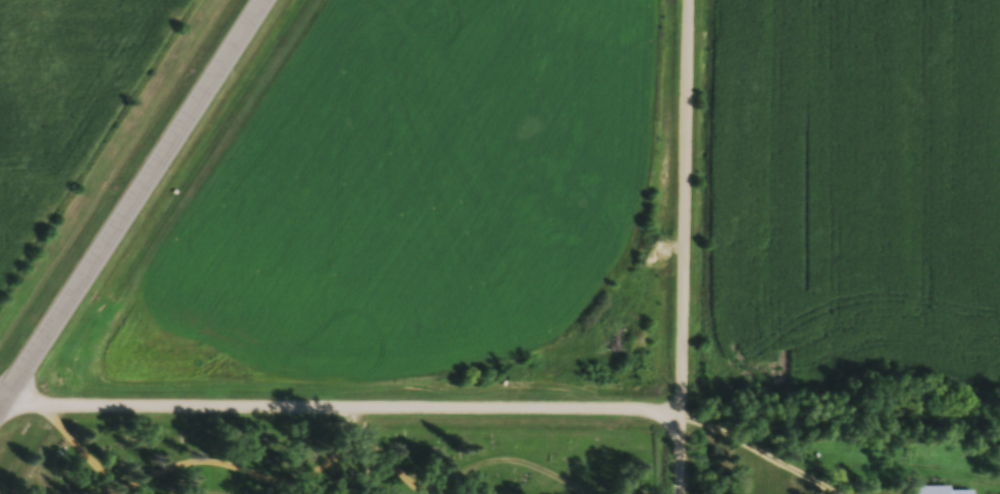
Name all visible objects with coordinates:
road: (135, 207)
road: (685, 246)
road: (1, 410)
road: (342, 410)
building: (944, 491)

